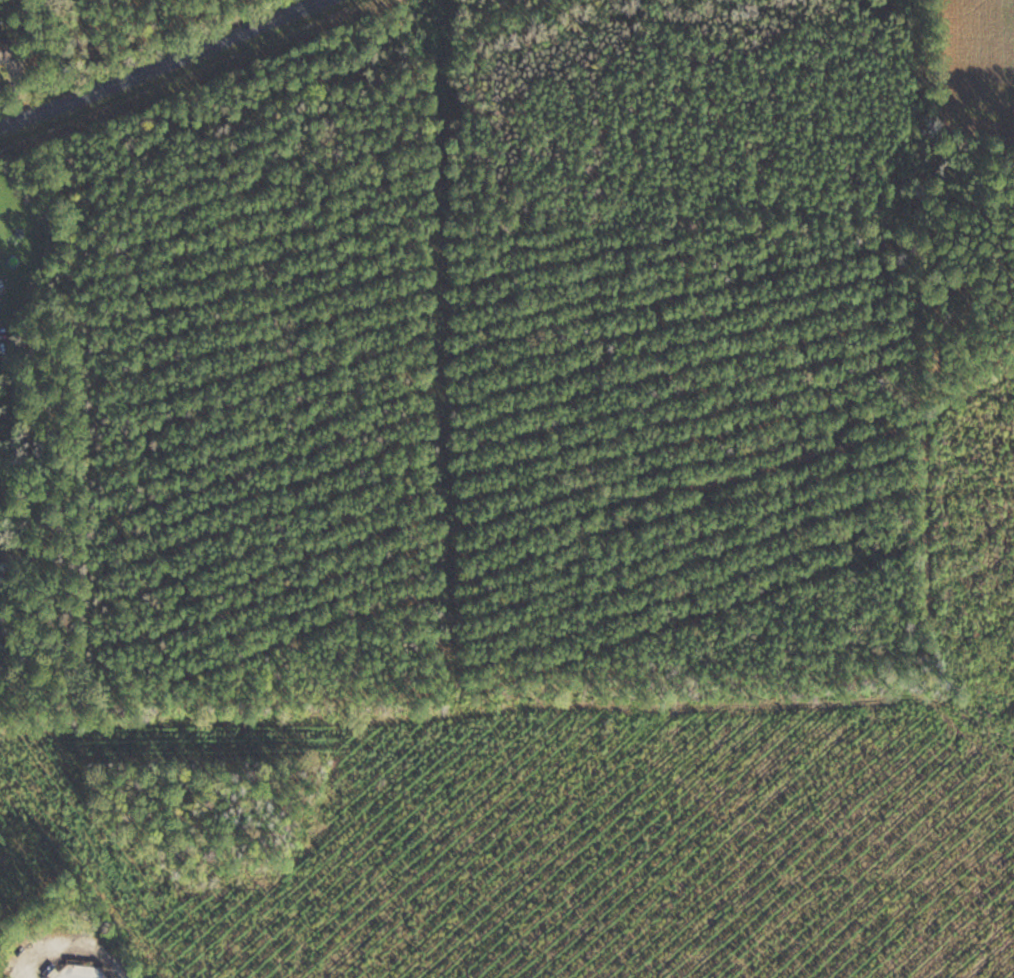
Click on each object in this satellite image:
building: (7, 51)
road: (156, 63)

